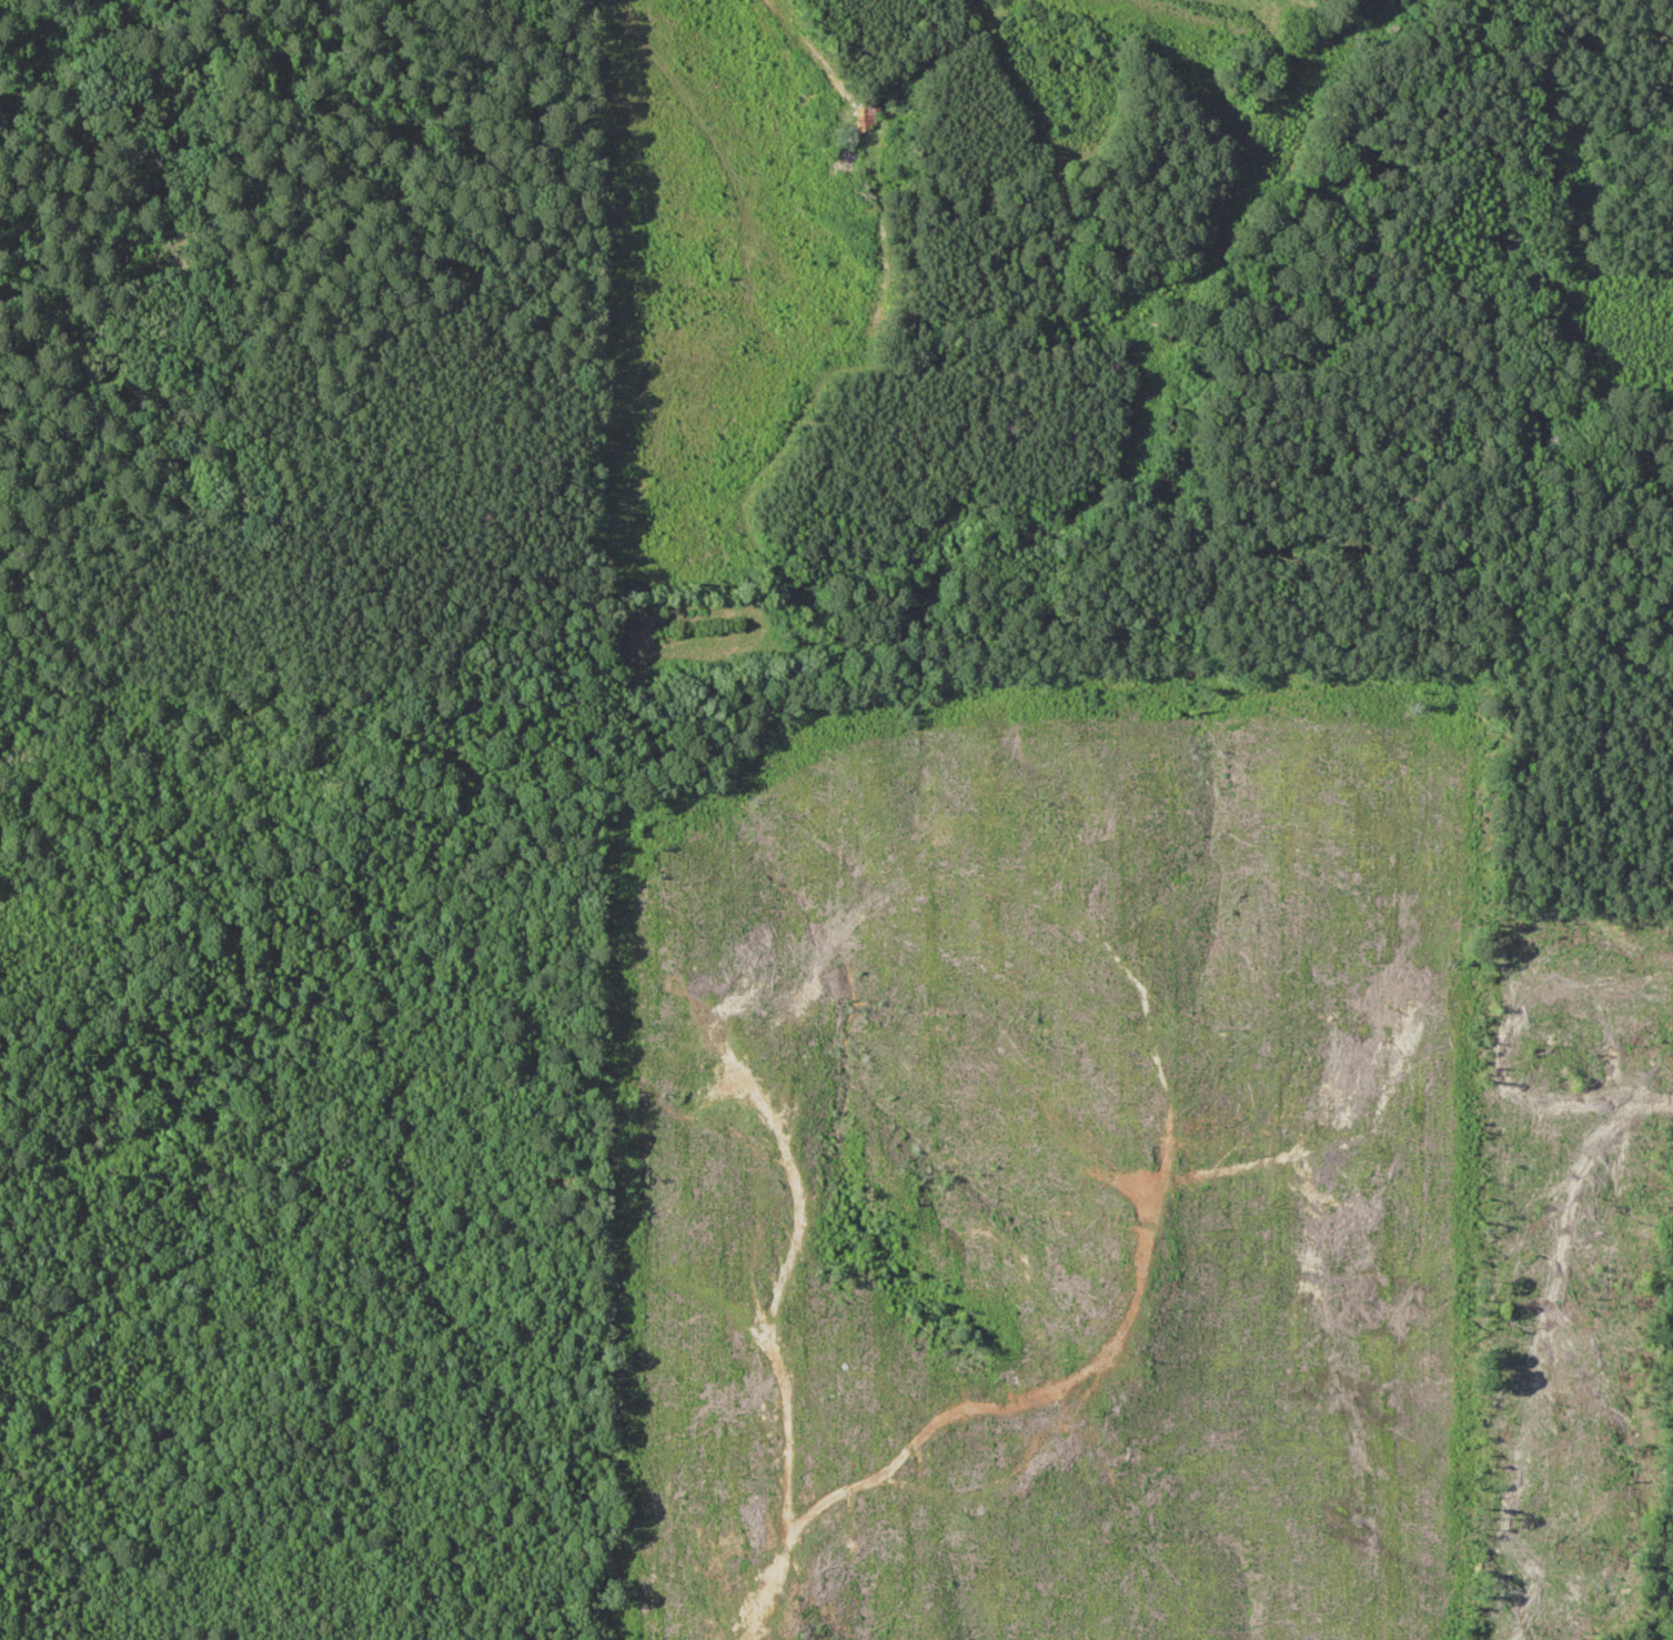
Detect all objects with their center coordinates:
building: (1375, 0)
road: (901, 37)
building: (864, 115)
building: (845, 161)

